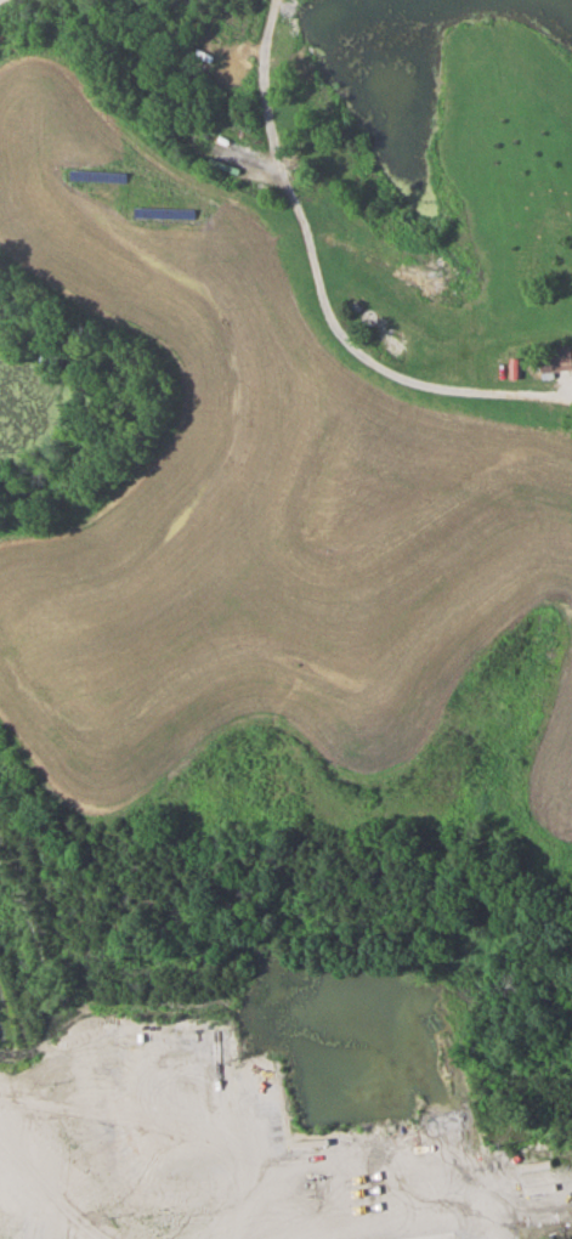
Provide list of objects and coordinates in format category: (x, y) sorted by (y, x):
building: (556, 360)
building: (50, 362)

